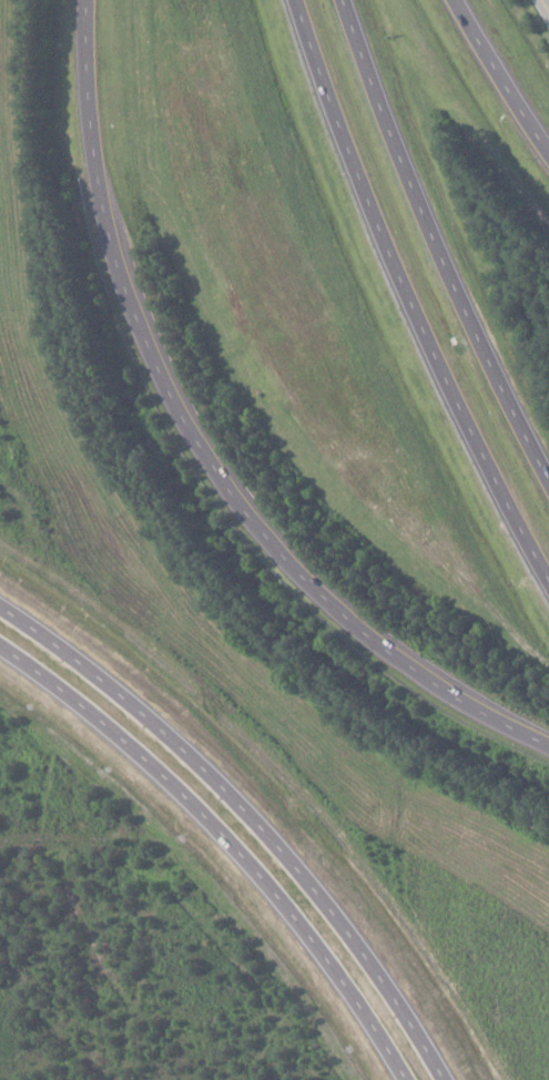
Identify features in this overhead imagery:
road: (546, 6)
road: (499, 80)
road: (437, 240)
road: (410, 299)
road: (201, 447)
road: (255, 804)
road: (230, 835)

